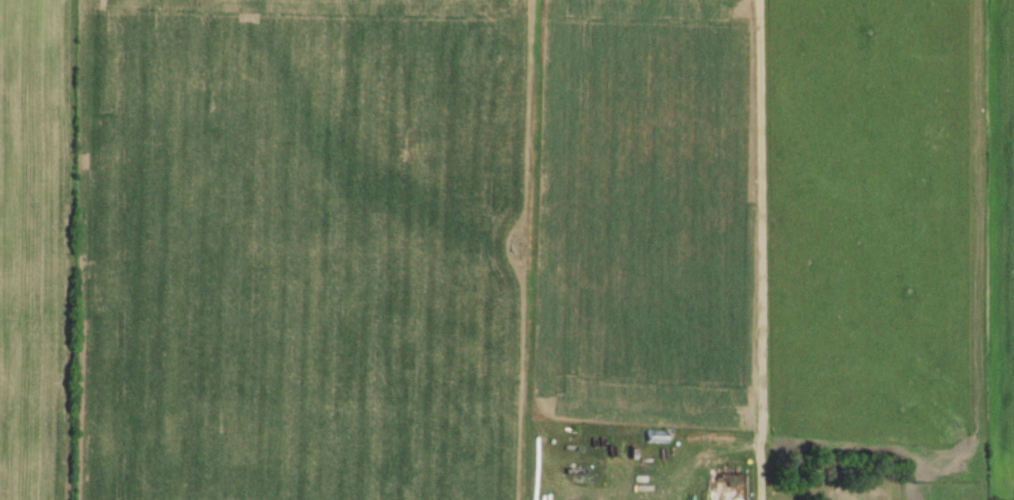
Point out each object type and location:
crop: (422, 209)
crop: (874, 224)
crop: (993, 227)
crop: (38, 243)
road: (759, 250)

